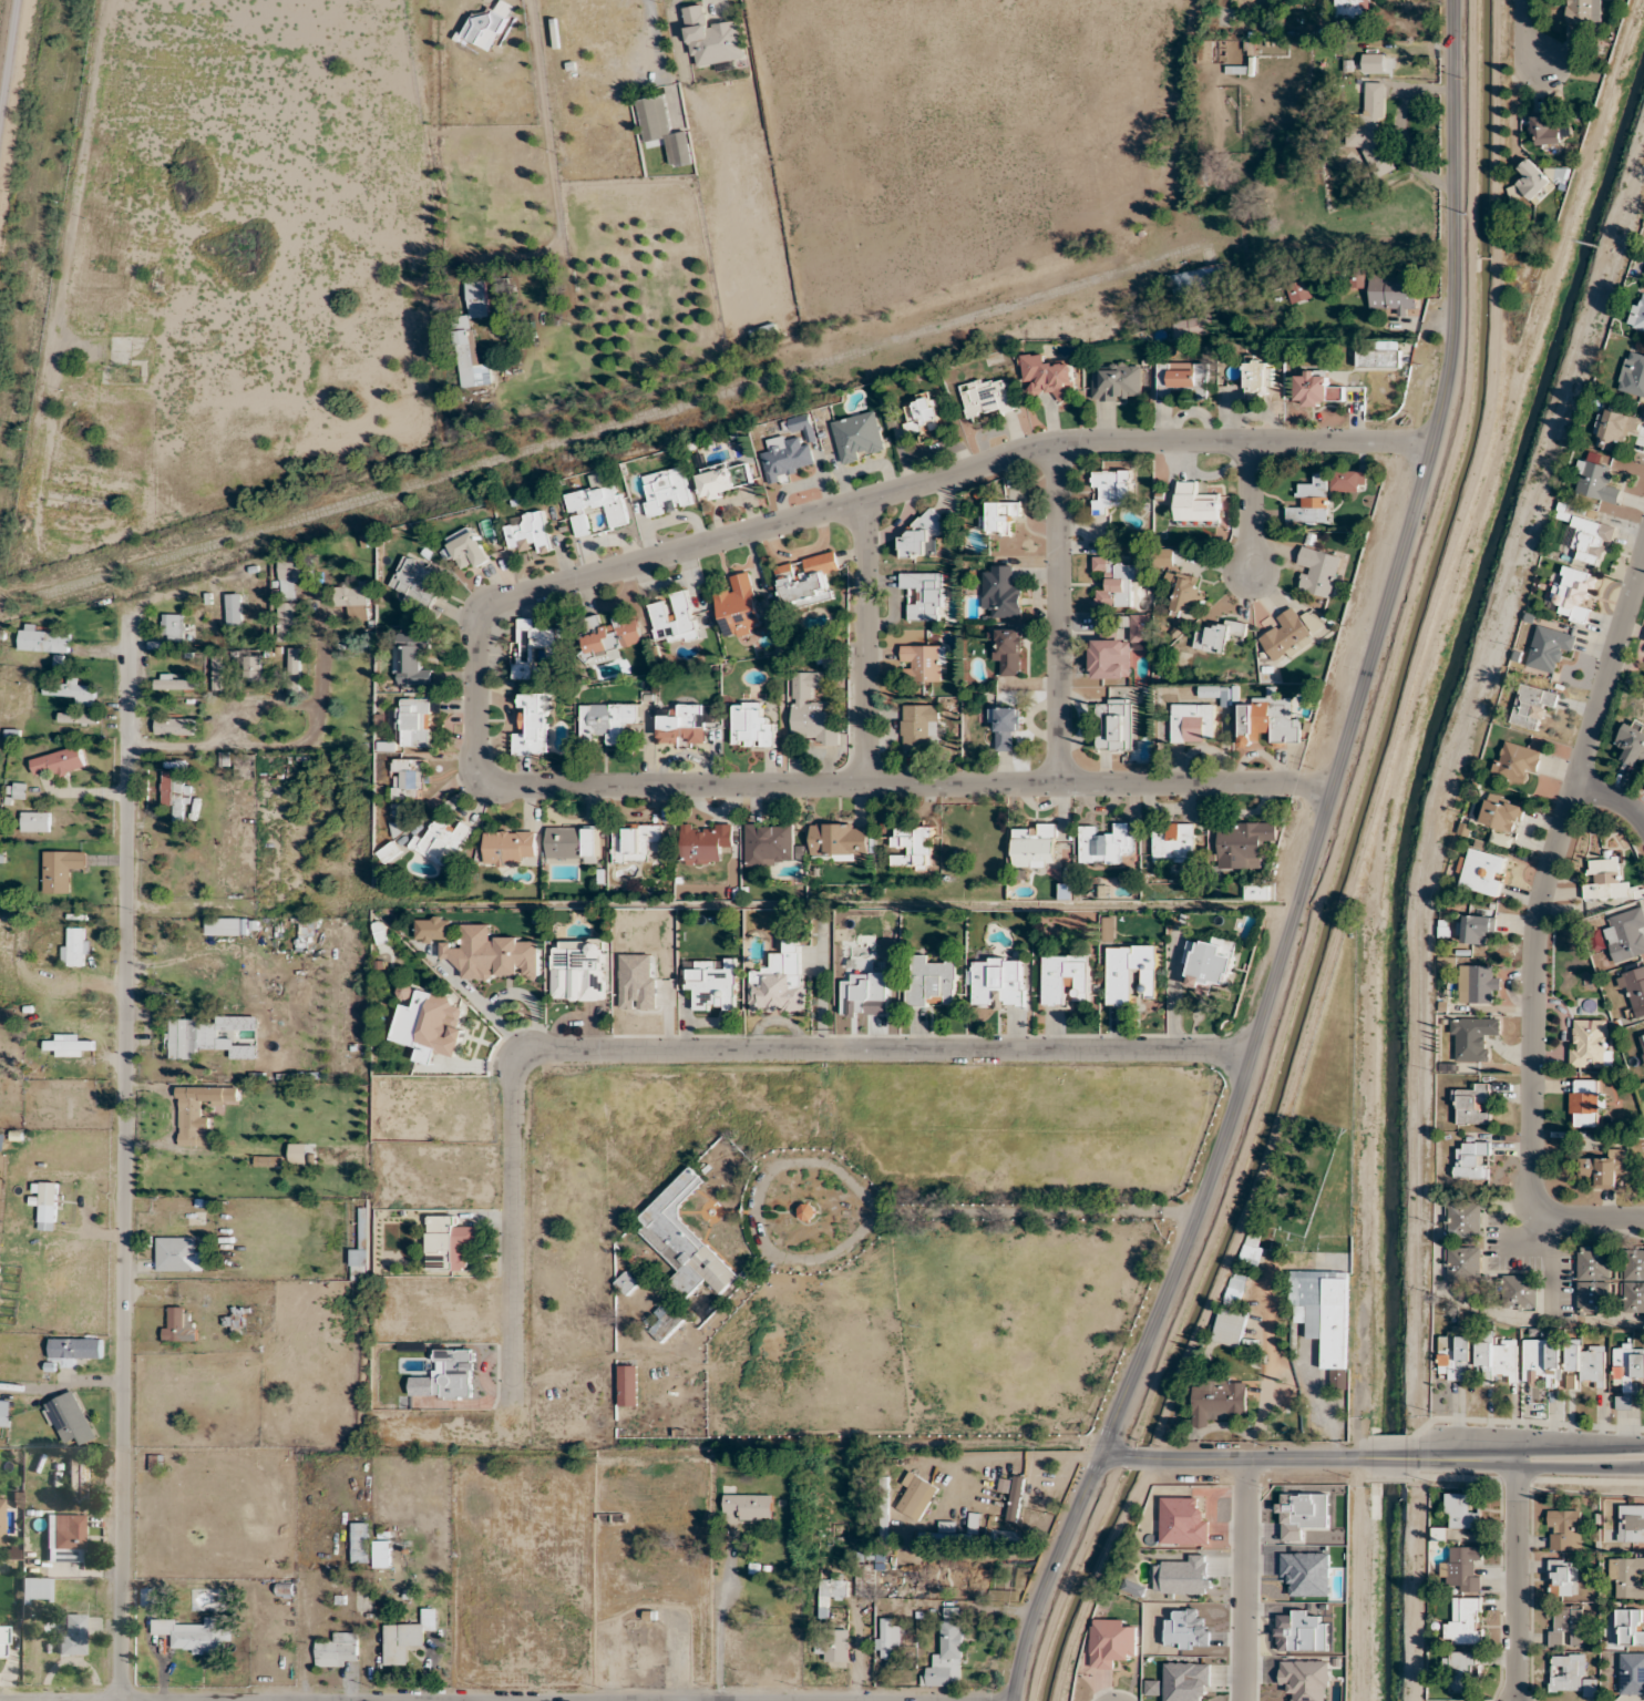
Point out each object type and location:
building: (1352, 7)
building: (1583, 10)
building: (487, 25)
road: (1528, 32)
road: (656, 38)
building: (712, 39)
building: (1373, 62)
road: (10, 66)
building: (664, 129)
building: (1373, 131)
building: (1545, 133)
building: (1532, 180)
building: (1357, 276)
building: (1190, 280)
building: (1298, 290)
building: (1391, 294)
building: (476, 299)
building: (1636, 316)
building: (1193, 326)
building: (764, 332)
building: (1379, 355)
building: (472, 360)
building: (1633, 375)
building: (1047, 377)
building: (1257, 378)
building: (1182, 379)
building: (1116, 382)
building: (1316, 388)
building: (986, 397)
building: (922, 414)
building: (1614, 429)
building: (859, 437)
building: (785, 457)
building: (1345, 480)
building: (717, 481)
building: (1594, 481)
building: (1110, 489)
building: (665, 491)
building: (1311, 502)
building: (1195, 505)
building: (595, 506)
road: (1251, 508)
building: (999, 516)
building: (528, 532)
building: (921, 537)
building: (1591, 540)
building: (467, 549)
building: (1163, 557)
building: (1318, 571)
building: (291, 574)
building: (806, 580)
building: (414, 581)
building: (1114, 582)
building: (1000, 592)
building: (1185, 592)
building: (1574, 593)
building: (924, 595)
building: (353, 600)
building: (739, 607)
building: (234, 608)
road: (1057, 614)
building: (287, 616)
building: (672, 618)
building: (173, 627)
road: (475, 632)
building: (1289, 634)
building: (610, 635)
building: (1219, 636)
building: (42, 639)
road: (865, 644)
building: (1549, 647)
building: (533, 648)
building: (1009, 650)
building: (410, 660)
building: (925, 662)
building: (253, 670)
building: (295, 672)
building: (218, 673)
building: (175, 683)
building: (72, 690)
building: (1208, 690)
building: (1532, 705)
road: (259, 707)
building: (810, 710)
building: (78, 717)
building: (608, 720)
building: (1268, 720)
building: (413, 721)
building: (1192, 723)
building: (533, 725)
building: (682, 725)
building: (918, 725)
building: (1006, 725)
building: (1114, 725)
building: (175, 726)
building: (751, 726)
road: (291, 744)
building: (1632, 744)
building: (1515, 761)
building: (58, 762)
building: (408, 783)
building: (175, 792)
road: (1612, 800)
building: (1501, 814)
building: (34, 821)
building: (443, 841)
building: (839, 841)
building: (572, 842)
building: (637, 842)
building: (705, 842)
building: (1173, 842)
building: (1101, 843)
building: (770, 844)
building: (1243, 844)
building: (1034, 846)
building: (911, 847)
building: (510, 848)
building: (390, 852)
road: (1309, 867)
building: (61, 869)
building: (1482, 871)
building: (1609, 882)
building: (1256, 891)
building: (226, 926)
building: (305, 926)
building: (433, 928)
road: (1537, 928)
building: (1475, 929)
building: (1625, 934)
building: (75, 947)
building: (494, 954)
building: (1210, 963)
building: (578, 970)
building: (1131, 972)
building: (1065, 978)
building: (779, 982)
building: (933, 982)
building: (998, 982)
building: (712, 984)
building: (1479, 984)
building: (1633, 988)
building: (430, 1026)
building: (209, 1036)
building: (1472, 1038)
building: (1590, 1043)
building: (1641, 1044)
building: (68, 1045)
road: (710, 1049)
building: (1585, 1103)
building: (1472, 1105)
building: (198, 1109)
road: (125, 1155)
building: (1471, 1160)
building: (1603, 1168)
road: (870, 1199)
building: (48, 1206)
building: (806, 1212)
building: (1462, 1219)
building: (684, 1240)
building: (449, 1243)
building: (178, 1254)
building: (1250, 1256)
building: (1462, 1263)
road: (1551, 1270)
building: (1594, 1279)
building: (1633, 1280)
building: (626, 1283)
building: (1235, 1288)
building: (1519, 1291)
building: (1323, 1315)
building: (666, 1321)
building: (237, 1323)
building: (178, 1325)
building: (1229, 1326)
building: (75, 1348)
building: (1456, 1355)
building: (1497, 1357)
building: (1543, 1361)
building: (1585, 1365)
building: (1627, 1372)
building: (627, 1385)
building: (1216, 1398)
building: (4, 1412)
building: (71, 1418)
road: (1578, 1446)
road: (1389, 1456)
road: (1462, 1457)
road: (1235, 1458)
road: (1578, 1468)
building: (76, 1480)
building: (916, 1496)
building: (1015, 1498)
building: (750, 1507)
building: (1461, 1510)
building: (1, 1521)
building: (1631, 1523)
building: (1564, 1529)
building: (64, 1538)
building: (360, 1543)
building: (381, 1554)
building: (1462, 1568)
building: (1182, 1575)
road: (1070, 1576)
road: (1095, 1576)
building: (1627, 1576)
building: (1563, 1578)
building: (864, 1579)
road: (1246, 1579)
road: (1517, 1579)
building: (34, 1590)
building: (832, 1590)
building: (147, 1597)
building: (1465, 1622)
road: (719, 1623)
building: (1565, 1626)
building: (1627, 1628)
building: (71, 1635)
building: (196, 1635)
building: (405, 1637)
building: (886, 1637)
building: (2, 1640)
building: (1111, 1642)
building: (834, 1644)
building: (338, 1650)
building: (947, 1654)
building: (647, 1659)
building: (1460, 1672)
building: (1632, 1673)
building: (1569, 1674)
road: (209, 1700)

